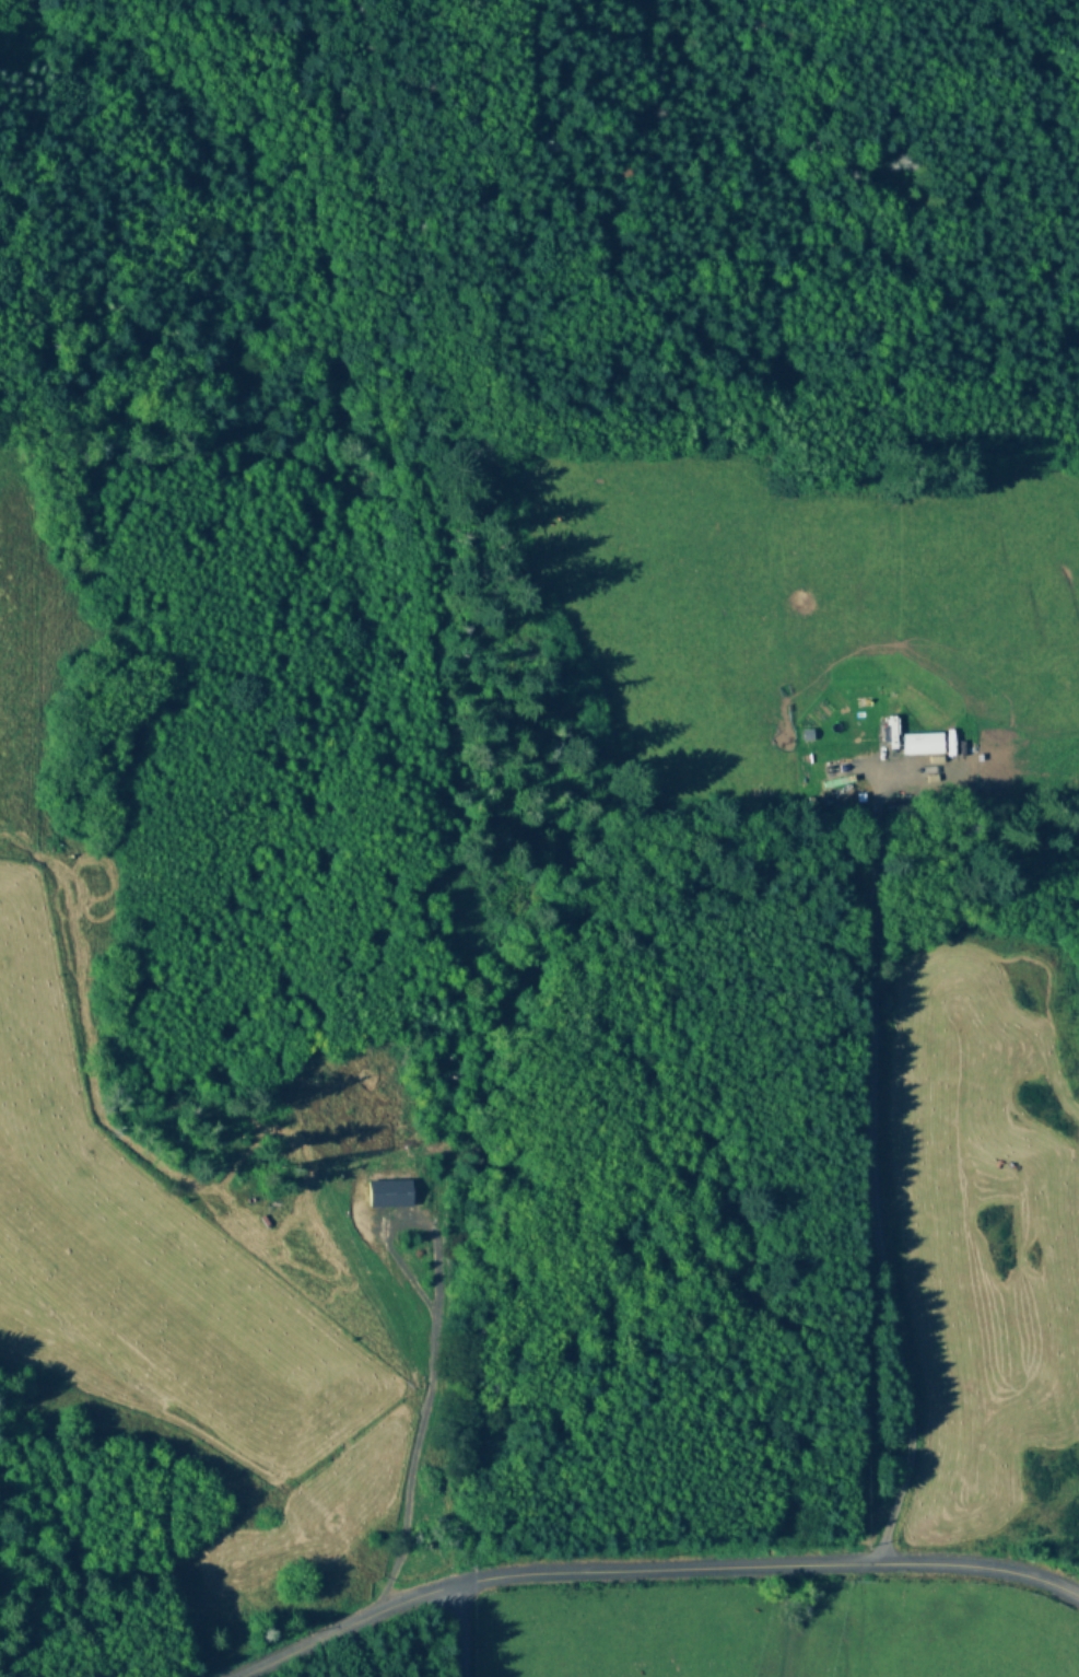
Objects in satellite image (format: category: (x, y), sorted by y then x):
building: (1046, 686)
building: (922, 745)
building: (834, 770)
building: (911, 799)
building: (834, 802)
road: (867, 1177)
road: (637, 1579)
road: (462, 1631)

